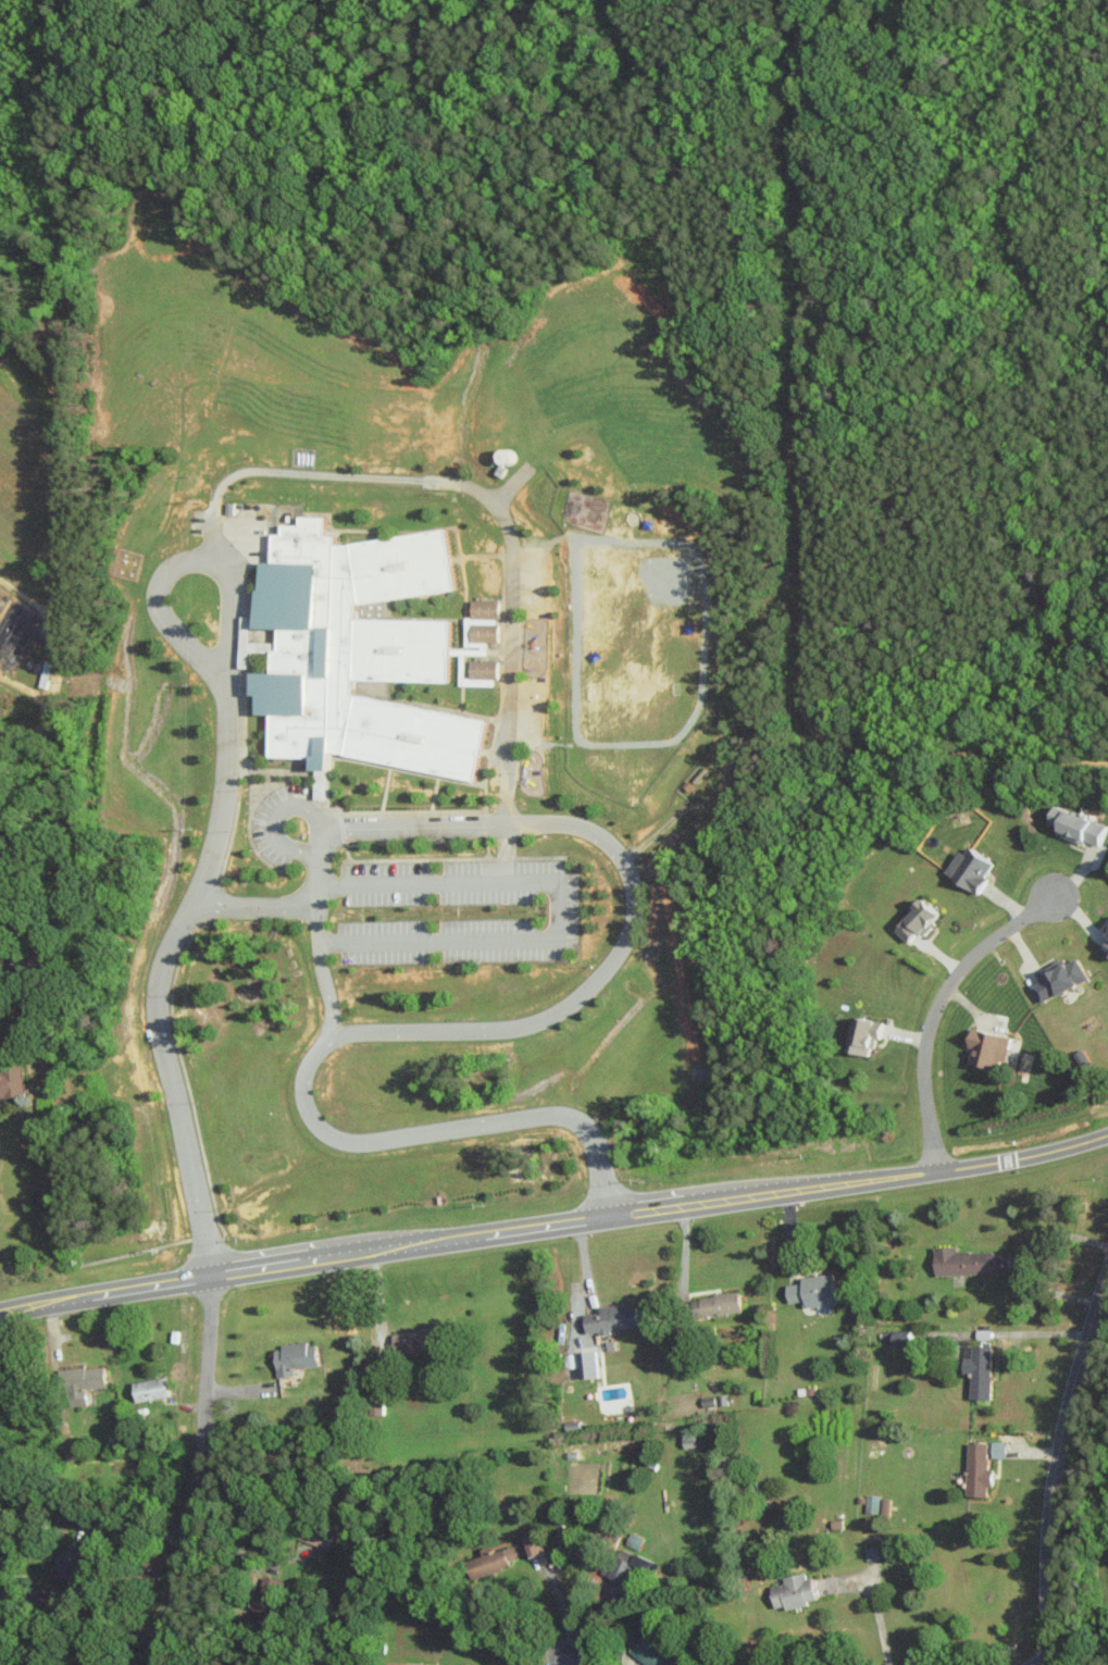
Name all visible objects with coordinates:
park: (39, 105)
road: (306, 473)
building: (229, 508)
parking lot: (233, 530)
road: (214, 535)
park: (527, 579)
park: (643, 595)
building: (480, 608)
road: (505, 624)
building: (478, 632)
building: (12, 633)
track: (634, 639)
building: (354, 650)
building: (480, 668)
road: (221, 822)
road: (273, 823)
parking lot: (270, 824)
building: (1076, 825)
road: (315, 844)
building: (969, 868)
road: (633, 900)
road: (278, 904)
road: (551, 909)
parking lot: (555, 911)
building: (916, 920)
building: (1107, 931)
building: (1106, 947)
road: (321, 970)
building: (1058, 978)
road: (934, 1009)
building: (862, 1034)
building: (986, 1047)
building: (10, 1081)
road: (444, 1129)
road: (555, 1223)
road: (1026, 1258)
building: (969, 1262)
building: (812, 1290)
building: (715, 1304)
building: (610, 1319)
road: (1025, 1333)
building: (898, 1338)
building: (418, 1339)
building: (292, 1357)
building: (976, 1369)
building: (77, 1382)
building: (147, 1389)
building: (374, 1404)
building: (997, 1449)
road: (1056, 1464)
building: (976, 1469)
road: (197, 1471)
building: (871, 1503)
building: (883, 1505)
building: (312, 1537)
building: (530, 1545)
building: (870, 1553)
road: (244, 1560)
building: (489, 1561)
building: (71, 1564)
building: (626, 1565)
building: (792, 1591)
building: (266, 1600)
road: (78, 1614)
road: (876, 1619)
road: (232, 1643)
building: (650, 1653)
road: (565, 1654)
building: (404, 1663)

